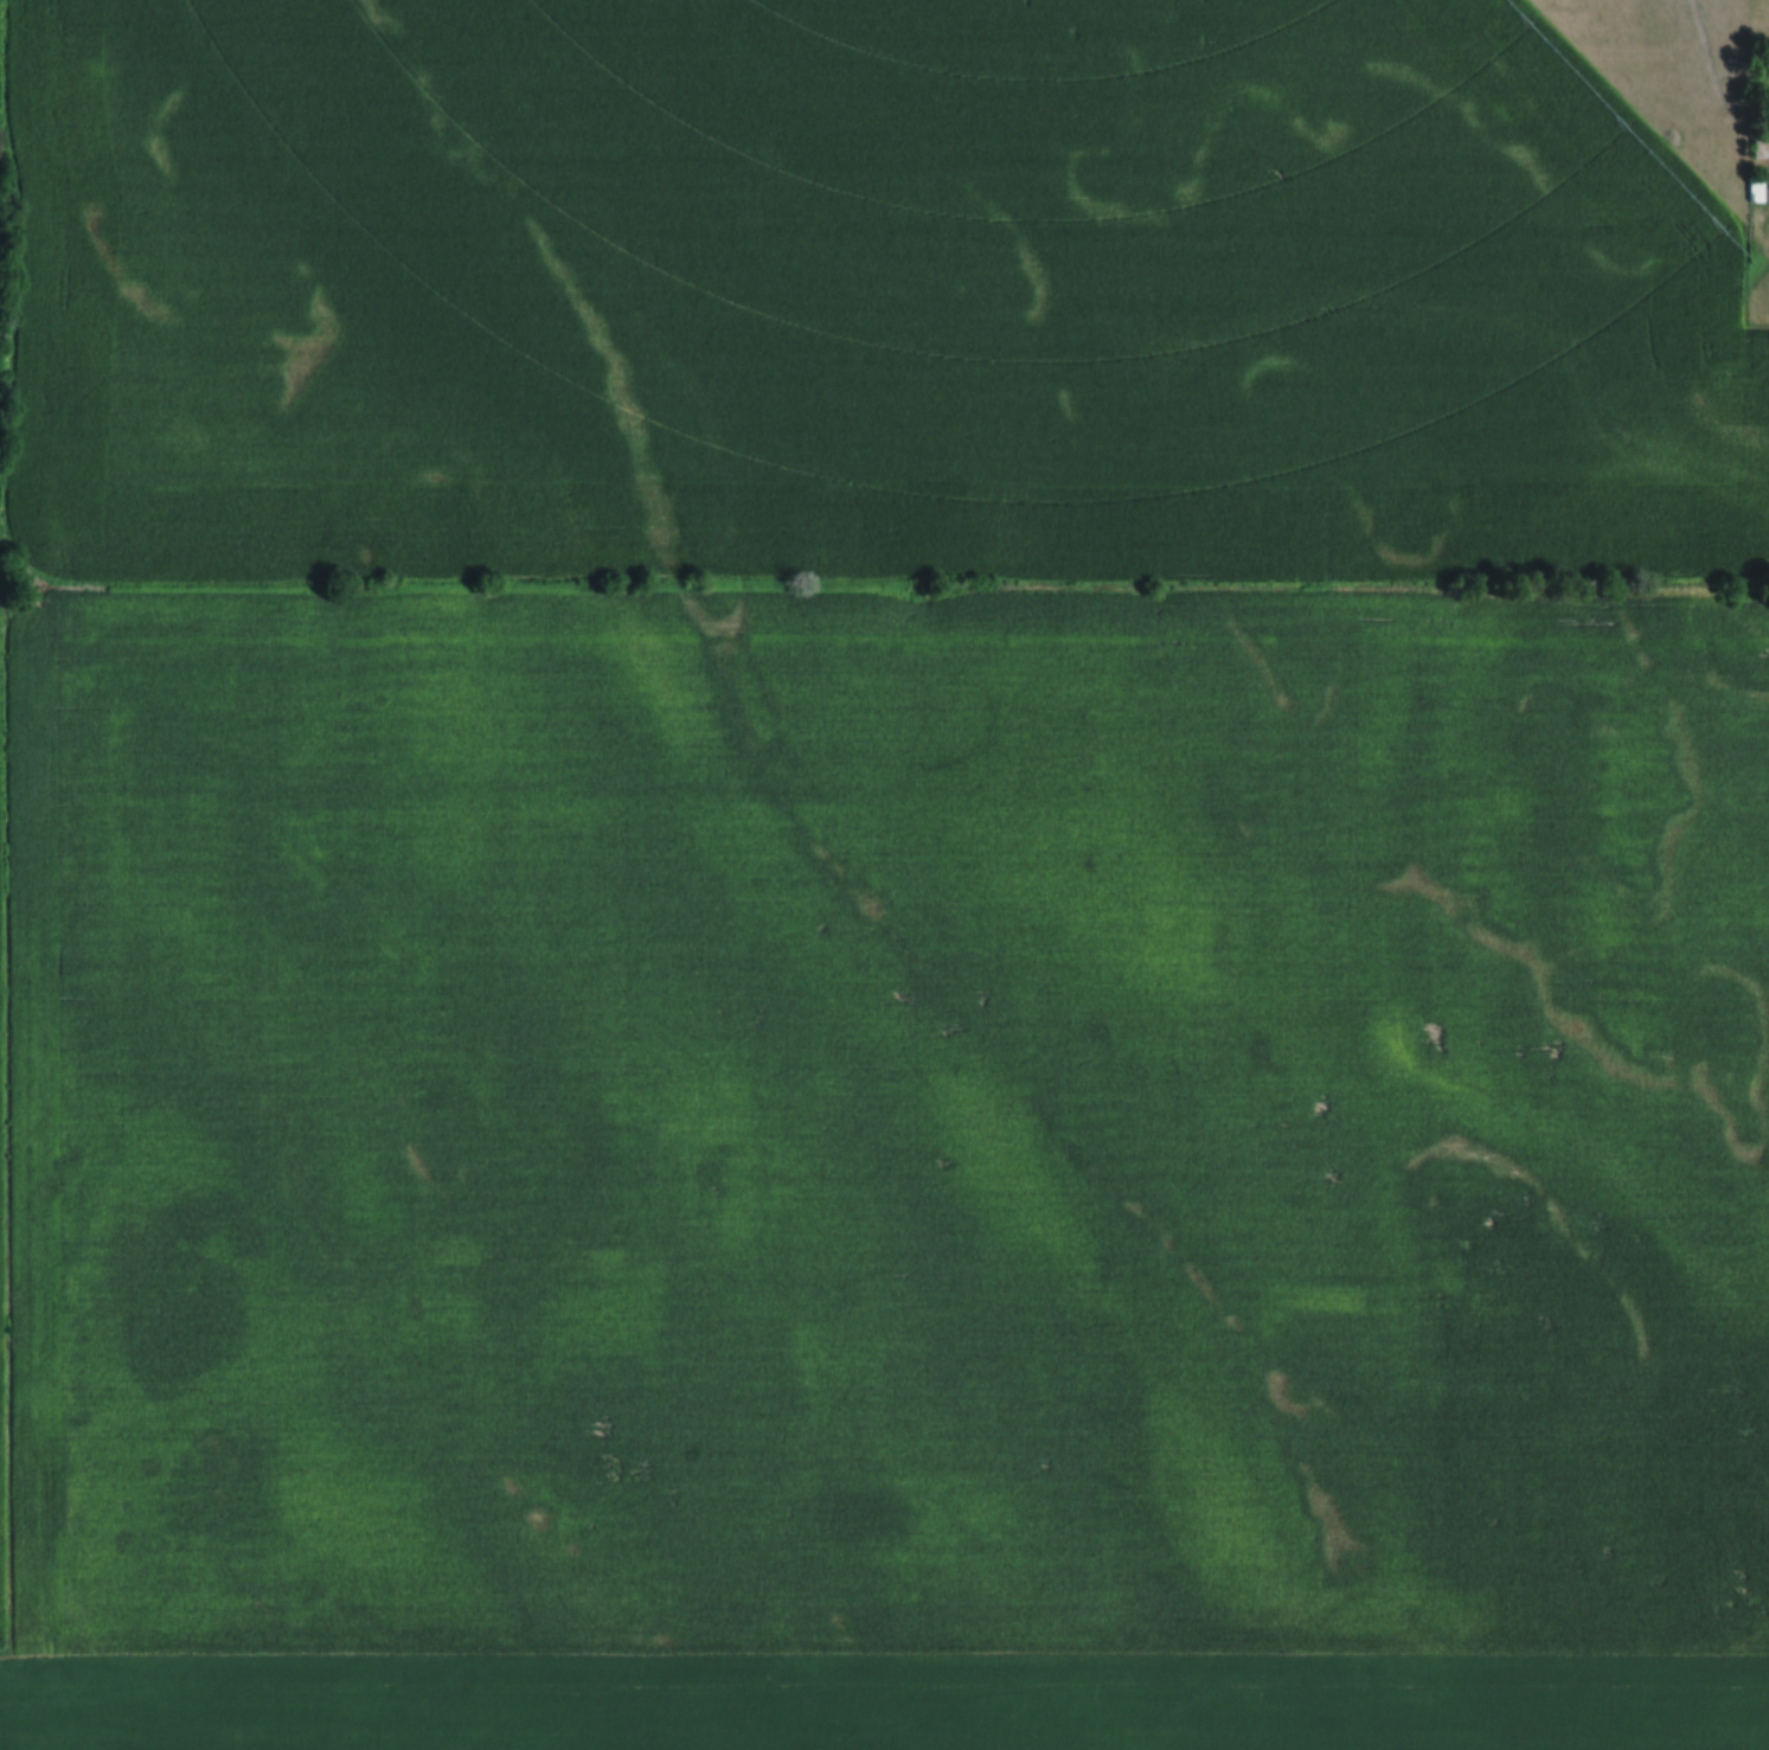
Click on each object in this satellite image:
building: (1758, 190)

